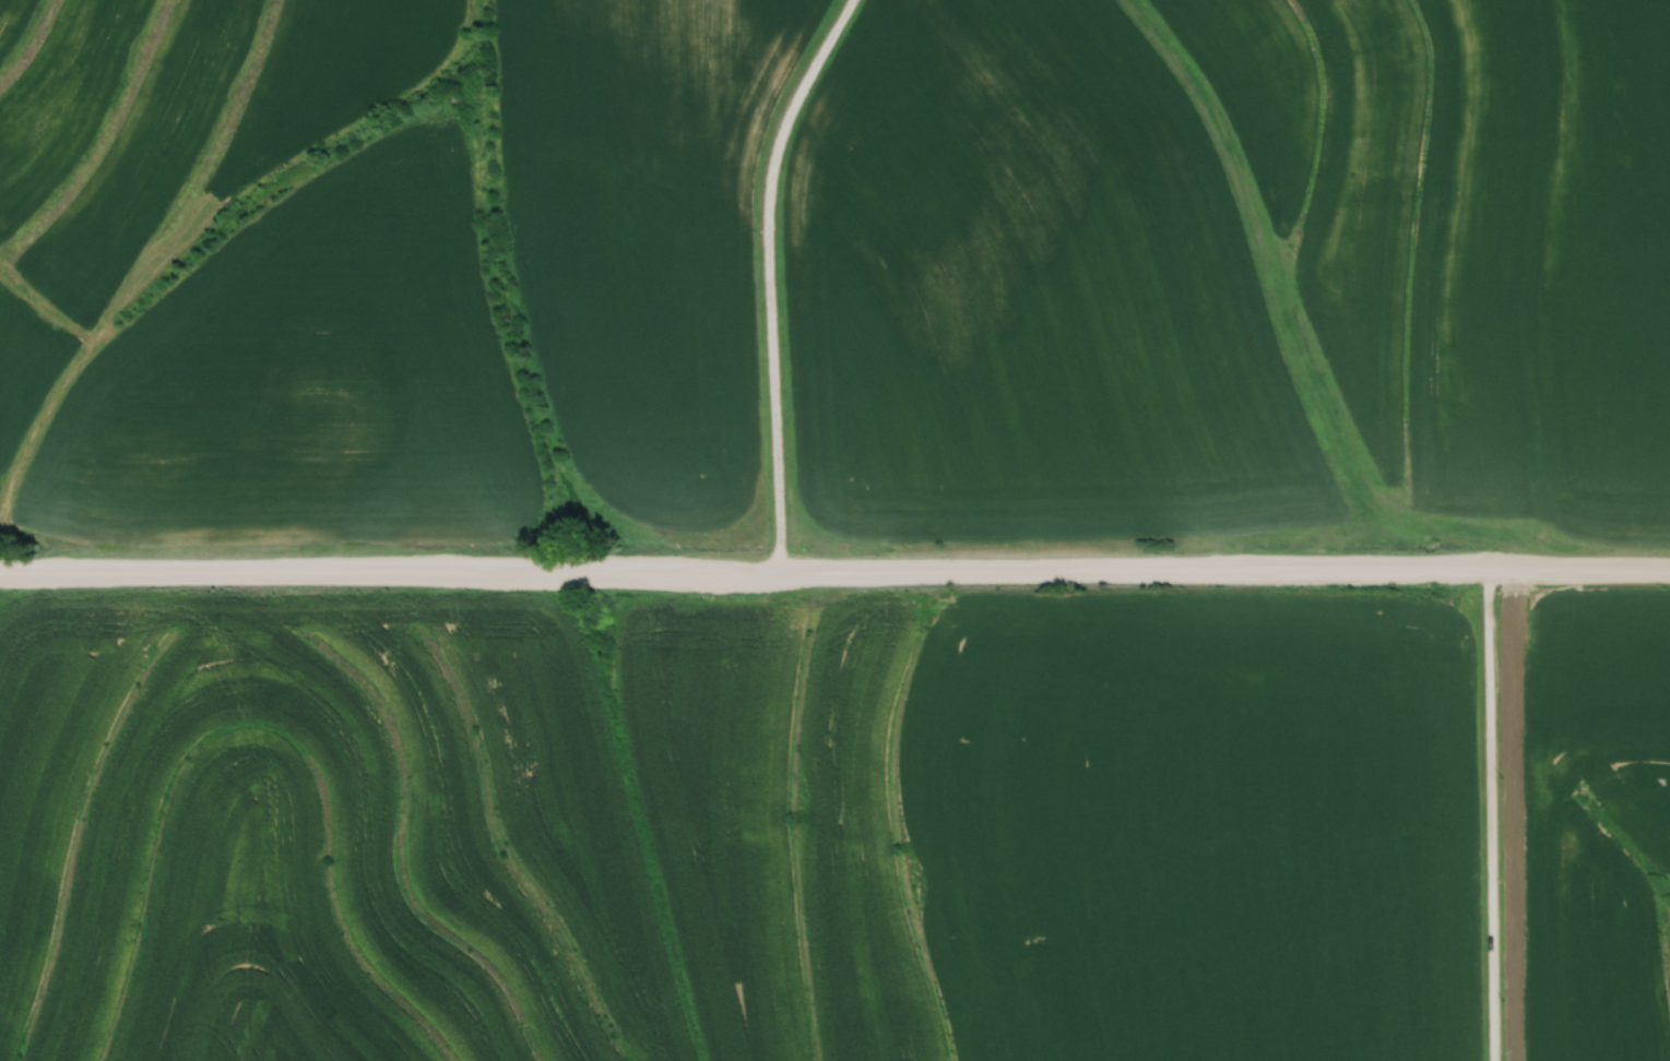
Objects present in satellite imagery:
road: (769, 276)
road: (834, 571)
road: (1489, 814)

